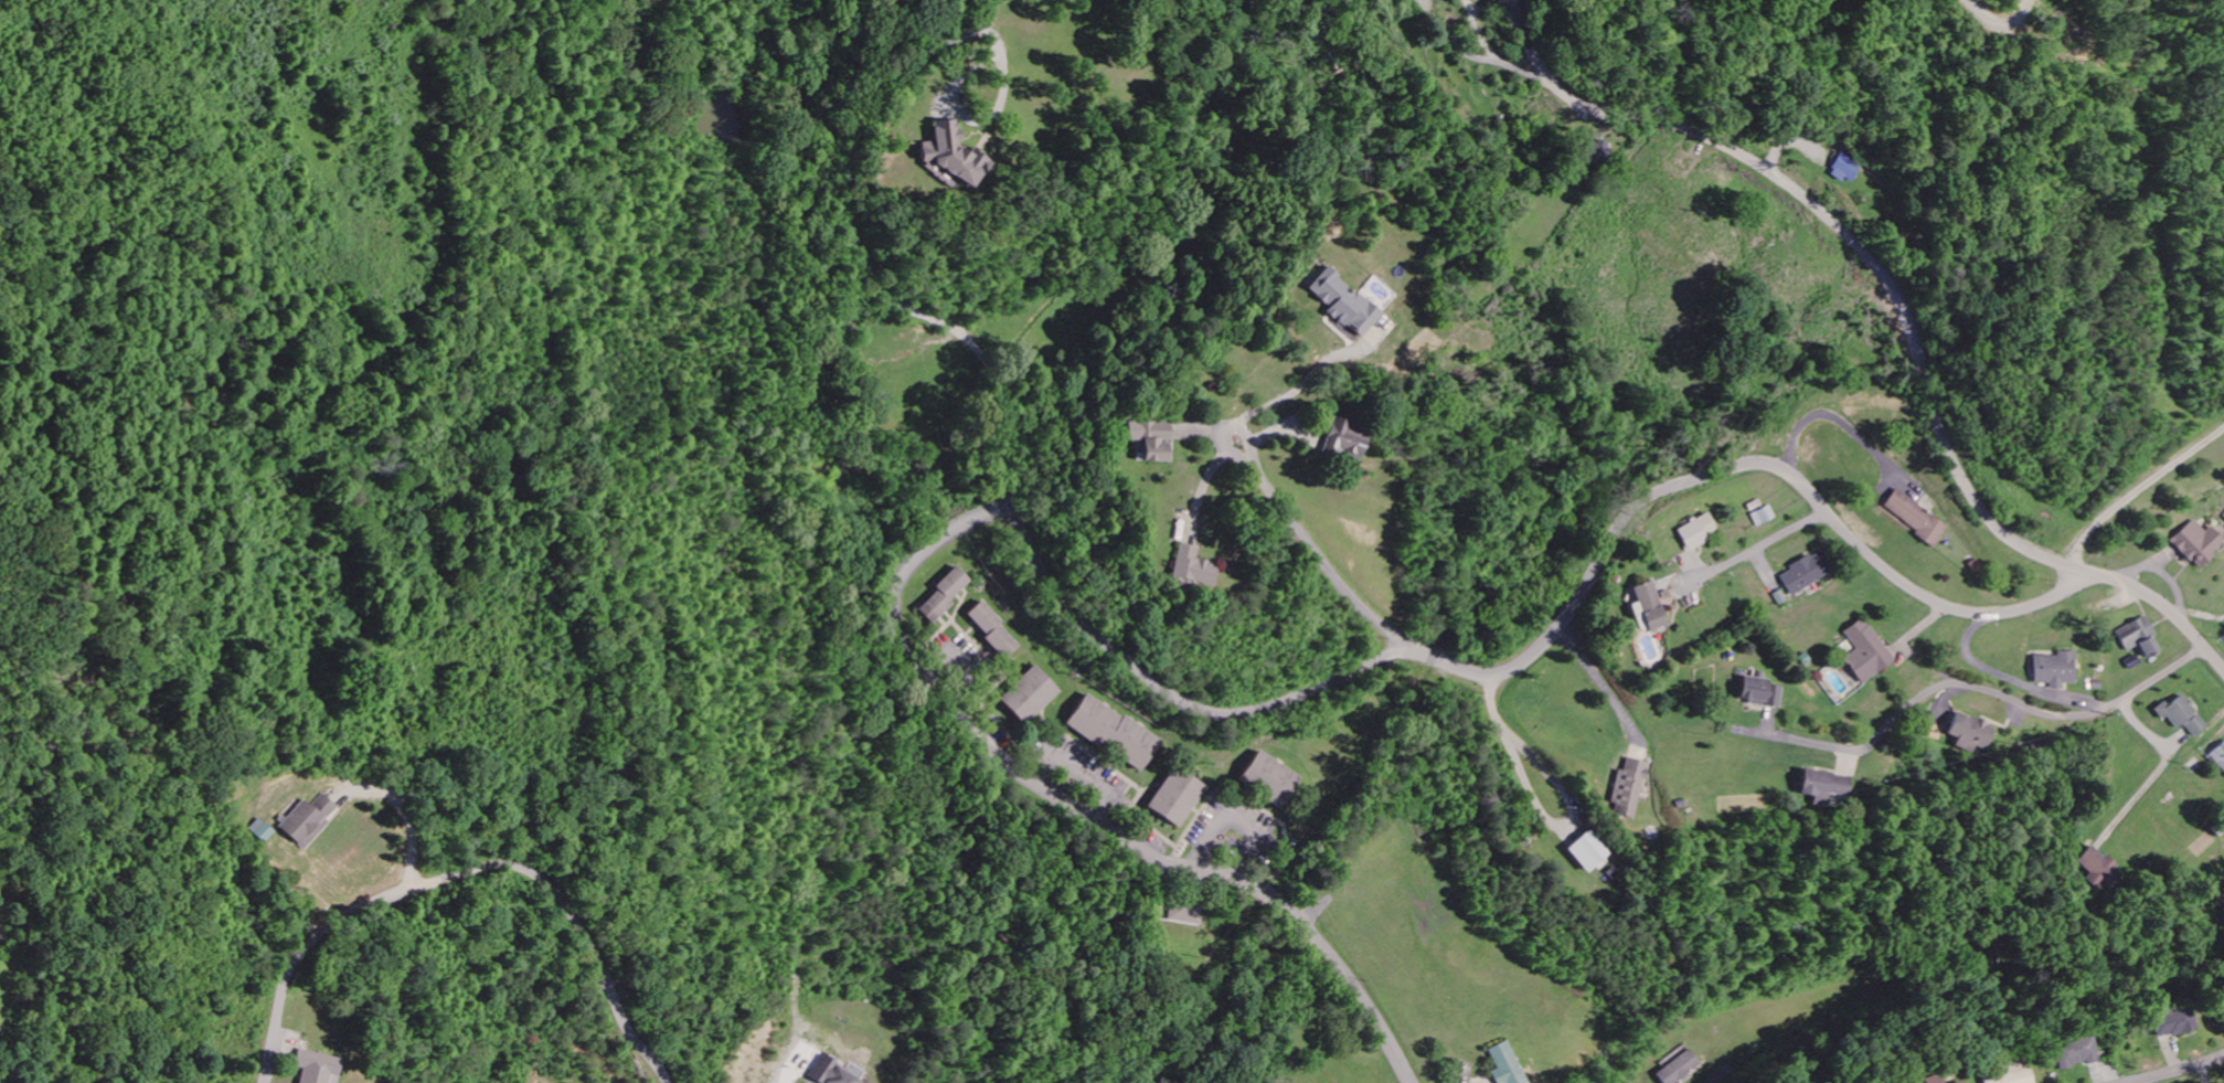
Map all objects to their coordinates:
road: (1514, 8)
road: (2000, 23)
building: (1596, 152)
building: (949, 153)
building: (1844, 169)
road: (1904, 301)
building: (1345, 304)
building: (1151, 439)
building: (1345, 439)
road: (2136, 489)
building: (1763, 516)
building: (1915, 517)
building: (1695, 532)
building: (2196, 543)
road: (1757, 549)
road: (1317, 553)
building: (1191, 569)
building: (1806, 573)
building: (941, 596)
building: (1647, 608)
road: (2199, 613)
building: (992, 630)
building: (2139, 637)
building: (1866, 652)
road: (1372, 659)
building: (2054, 670)
building: (1759, 691)
road: (1996, 694)
building: (1028, 696)
building: (2181, 715)
building: (1114, 732)
building: (1968, 733)
building: (2218, 757)
building: (1269, 779)
building: (1820, 786)
building: (1628, 788)
building: (1175, 798)
road: (405, 816)
building: (307, 821)
building: (263, 831)
building: (1587, 853)
building: (2093, 869)
road: (465, 873)
road: (1266, 895)
building: (1184, 913)
building: (2171, 1022)
building: (2075, 1053)
building: (1507, 1065)
building: (315, 1068)
building: (1679, 1069)
road: (2174, 1071)
building: (831, 1073)
building: (2008, 1074)
road: (779, 1080)
building: (1935, 1080)
building: (1961, 1082)

